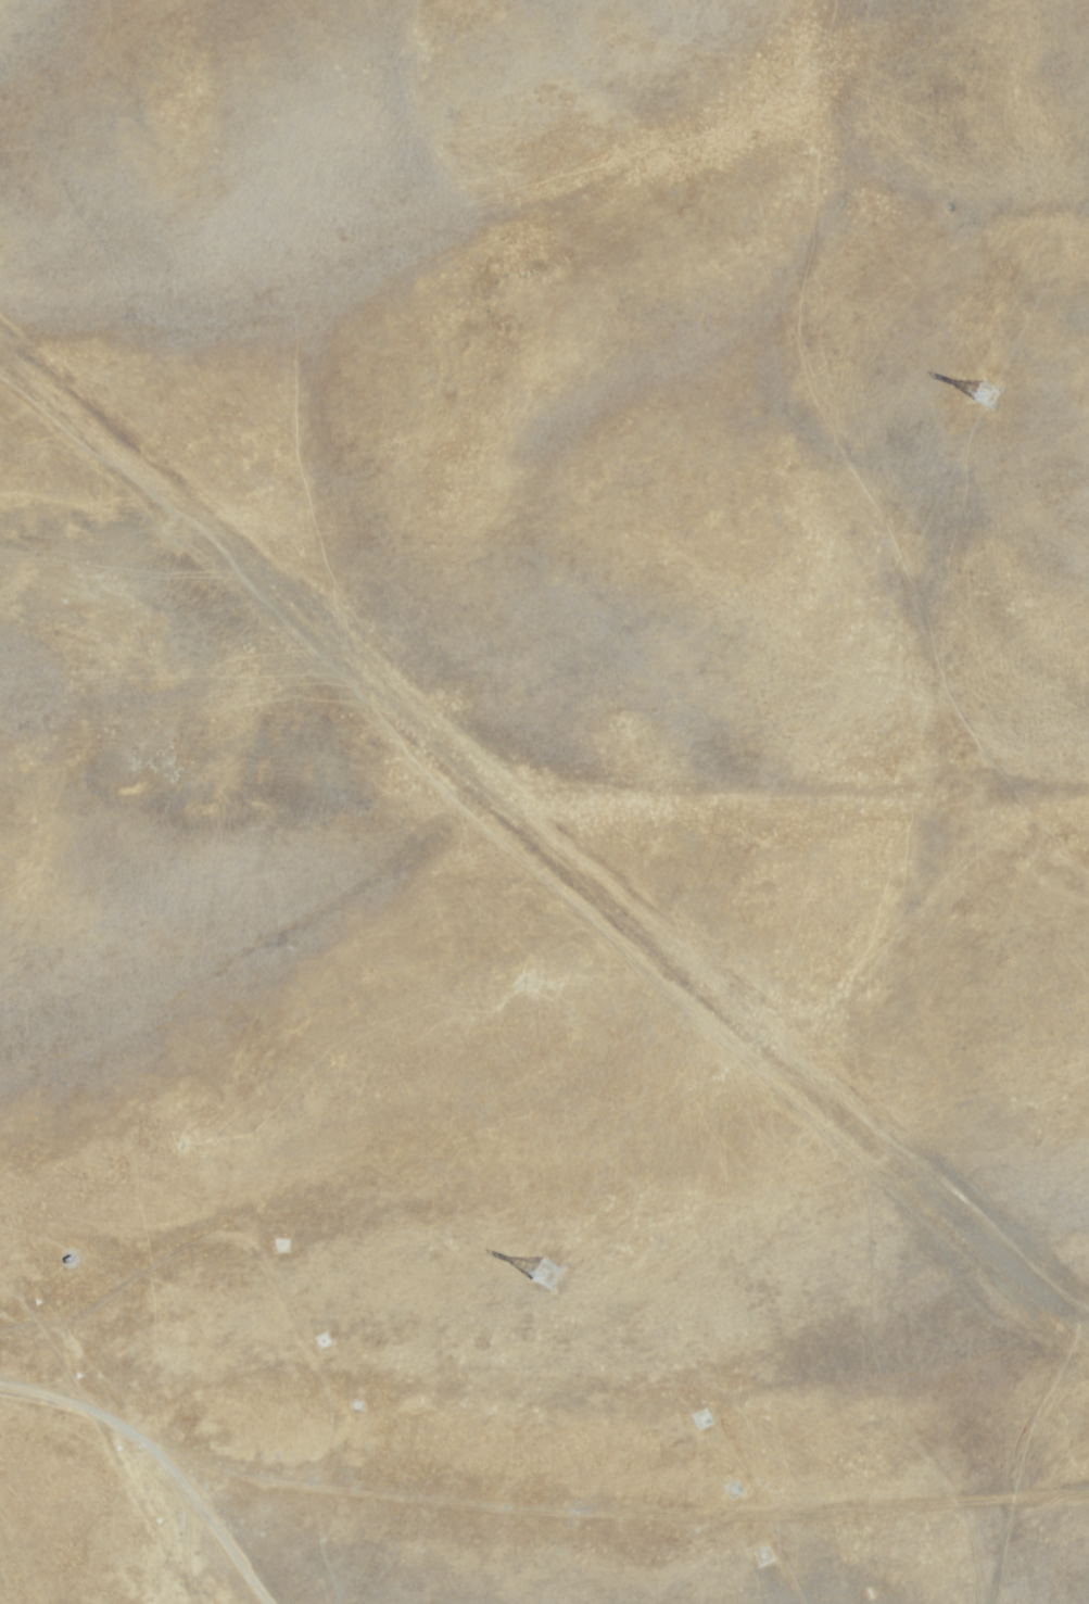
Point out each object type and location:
power tower: (1000, 421)
power tower: (562, 1279)

